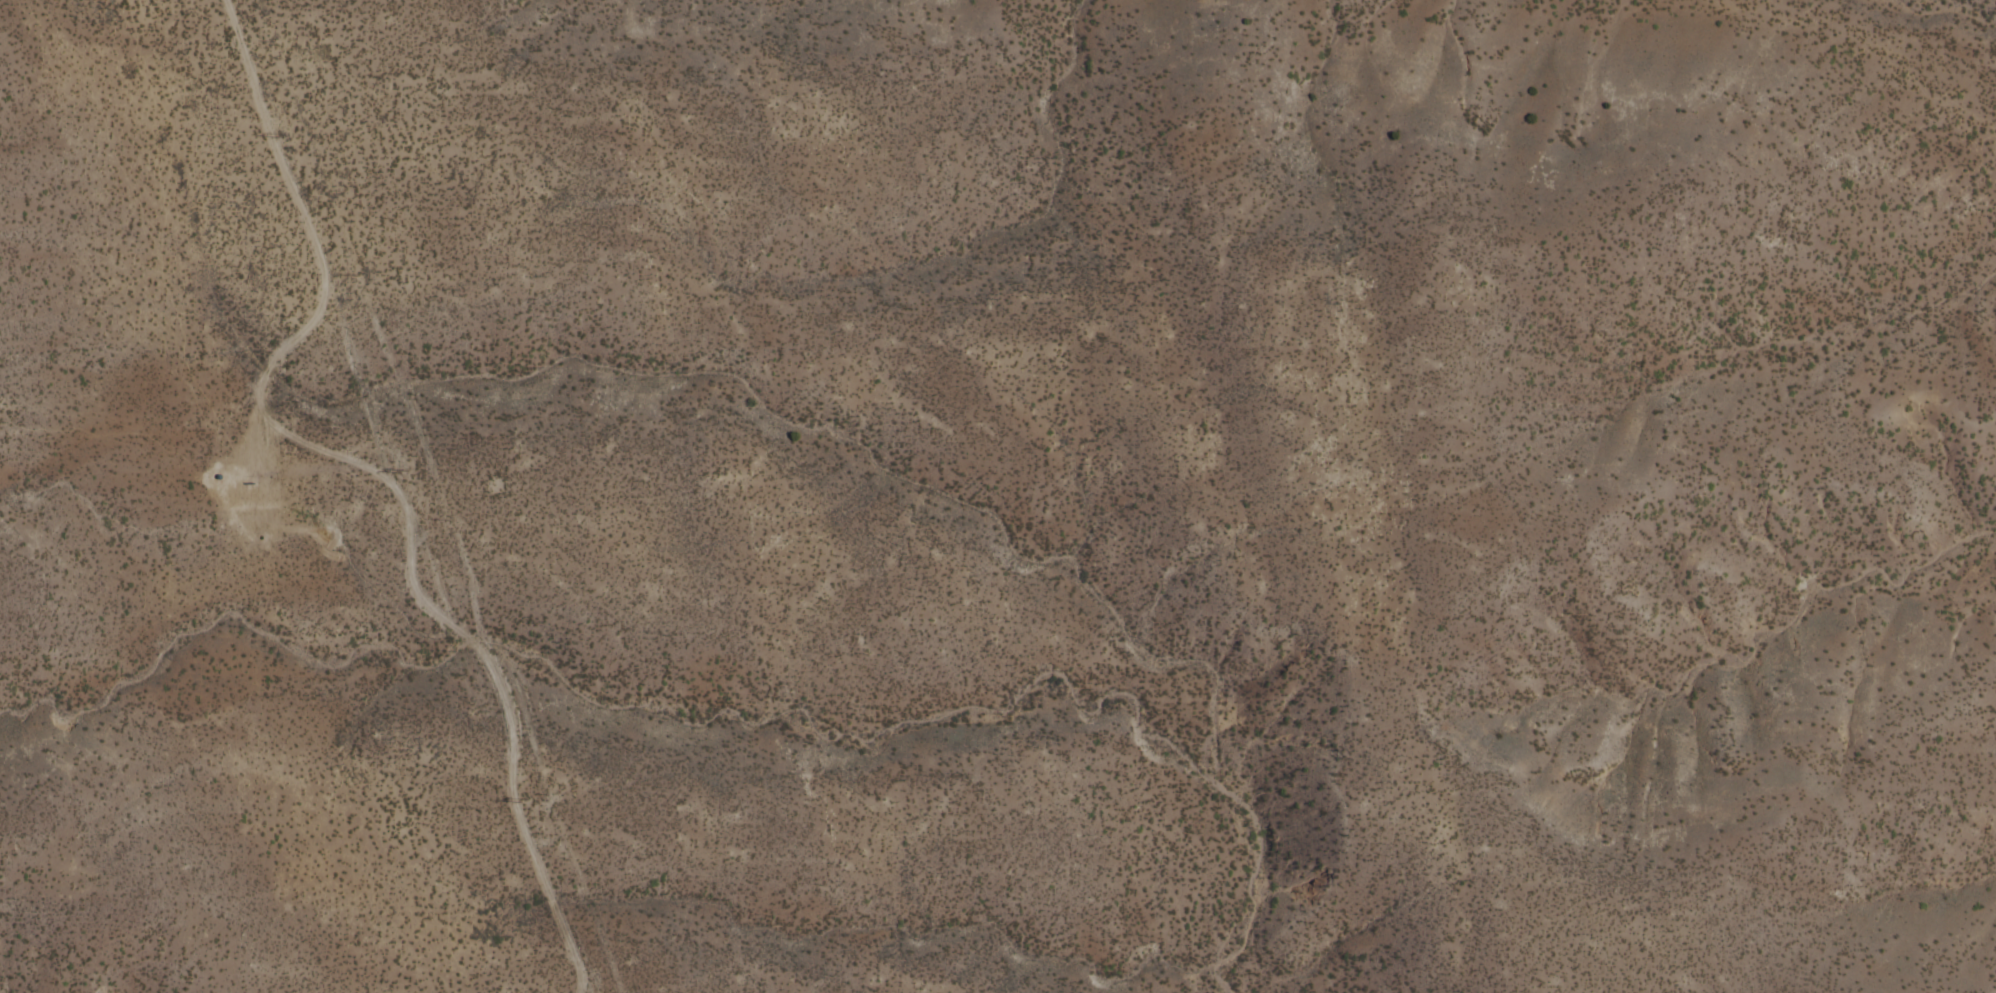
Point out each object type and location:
road: (376, 473)

